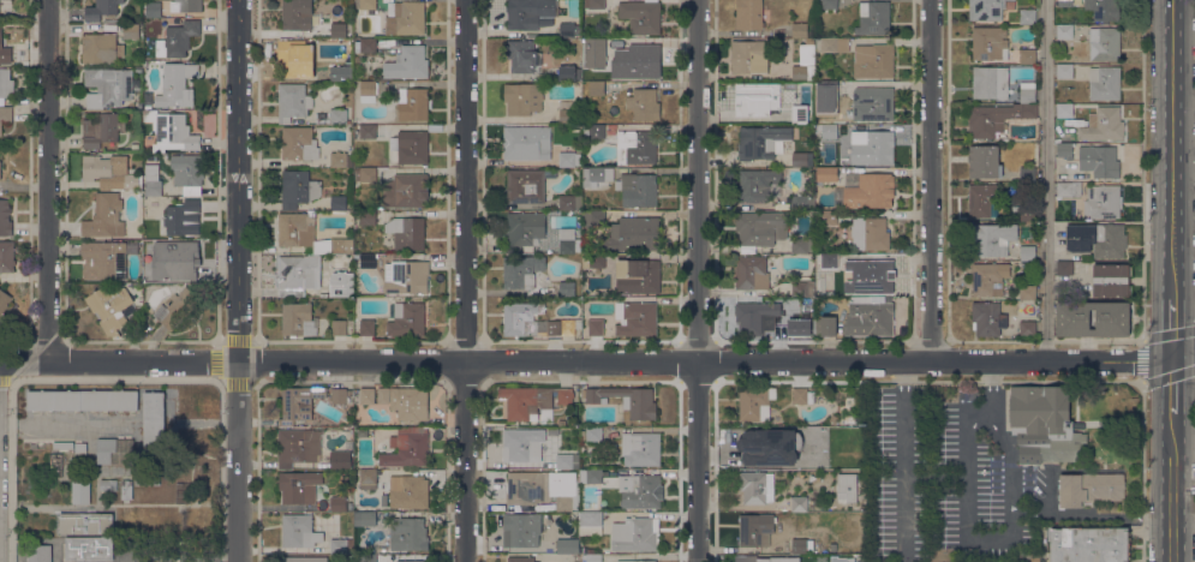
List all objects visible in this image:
building: (1062, 2)
building: (365, 4)
building: (593, 4)
building: (827, 4)
building: (189, 6)
building: (988, 8)
building: (1104, 8)
building: (102, 10)
building: (153, 10)
building: (528, 13)
building: (751, 14)
building: (298, 16)
building: (641, 16)
building: (1027, 17)
building: (405, 18)
building: (873, 18)
building: (110, 20)
building: (337, 30)
building: (569, 30)
building: (799, 30)
building: (1064, 31)
building: (130, 32)
building: (180, 37)
building: (809, 41)
building: (990, 43)
building: (1104, 43)
building: (368, 44)
building: (596, 44)
building: (833, 44)
building: (357, 46)
building: (101, 48)
building: (160, 48)
building: (4, 52)
building: (1027, 55)
building: (522, 56)
building: (751, 58)
building: (293, 59)
building: (873, 61)
building: (635, 62)
building: (805, 64)
building: (407, 65)
building: (1064, 71)
building: (339, 72)
building: (569, 72)
building: (359, 74)
building: (6, 83)
building: (990, 83)
building: (1104, 83)
building: (809, 84)
building: (108, 85)
building: (177, 85)
building: (832, 86)
building: (596, 88)
building: (368, 91)
building: (1027, 91)
building: (522, 98)
building: (757, 98)
building: (291, 102)
building: (644, 103)
building: (873, 103)
building: (414, 104)
building: (1064, 110)
building: (567, 112)
building: (826, 112)
building: (5, 114)
building: (799, 115)
building: (337, 116)
building: (996, 118)
building: (1103, 125)
building: (101, 130)
building: (174, 131)
building: (374, 131)
building: (593, 131)
building: (829, 131)
building: (516, 140)
building: (761, 142)
building: (299, 144)
building: (639, 145)
building: (135, 147)
building: (412, 147)
building: (876, 148)
road: (1175, 148)
building: (1064, 150)
building: (568, 156)
building: (336, 159)
building: (799, 160)
building: (1099, 161)
building: (984, 162)
building: (95, 167)
building: (0, 169)
building: (187, 173)
building: (368, 173)
building: (826, 174)
building: (1027, 174)
building: (597, 175)
building: (1075, 177)
road: (48, 180)
building: (131, 180)
road: (928, 180)
road: (1045, 180)
building: (153, 184)
building: (757, 185)
building: (526, 186)
building: (298, 189)
building: (1069, 189)
building: (637, 190)
building: (406, 191)
building: (871, 191)
building: (981, 199)
building: (1103, 201)
building: (569, 202)
building: (802, 202)
building: (337, 203)
building: (1027, 213)
building: (104, 216)
building: (180, 216)
building: (368, 217)
building: (829, 217)
building: (5, 219)
building: (592, 219)
building: (297, 228)
building: (760, 228)
building: (524, 231)
building: (840, 231)
building: (407, 232)
building: (870, 233)
building: (634, 234)
building: (996, 239)
building: (1095, 239)
building: (568, 240)
building: (341, 245)
building: (801, 245)
building: (1027, 252)
building: (6, 257)
building: (106, 258)
building: (366, 259)
building: (175, 261)
building: (594, 261)
building: (833, 261)
building: (1064, 268)
building: (524, 271)
building: (298, 273)
building: (751, 273)
building: (406, 276)
building: (639, 276)
building: (873, 277)
building: (988, 279)
road: (237, 280)
building: (1111, 280)
road: (465, 281)
road: (691, 281)
building: (341, 283)
building: (567, 288)
building: (801, 288)
building: (1027, 292)
building: (4, 300)
building: (110, 307)
building: (175, 309)
building: (406, 318)
building: (521, 318)
building: (635, 318)
building: (755, 318)
building: (867, 318)
building: (987, 318)
building: (298, 319)
building: (1112, 322)
building: (366, 325)
building: (562, 327)
building: (596, 327)
building: (800, 327)
building: (825, 327)
building: (339, 328)
building: (1027, 328)
road: (1173, 329)
building: (137, 330)
building: (609, 331)
road: (598, 361)
road: (1173, 385)
building: (340, 395)
building: (368, 395)
building: (802, 395)
building: (82, 400)
building: (626, 400)
building: (410, 402)
building: (534, 402)
building: (755, 402)
building: (298, 403)
building: (1039, 408)
building: (153, 418)
building: (833, 418)
building: (849, 419)
building: (562, 423)
road: (62, 424)
building: (593, 434)
building: (755, 442)
building: (522, 444)
building: (1033, 444)
building: (62, 446)
building: (298, 447)
building: (80, 448)
building: (407, 448)
building: (640, 448)
building: (1071, 448)
building: (115, 450)
building: (1028, 459)
building: (340, 460)
building: (563, 461)
building: (799, 461)
road: (1173, 464)
building: (55, 465)
building: (151, 476)
building: (593, 476)
parking lot: (946, 478)
road: (946, 478)
building: (366, 479)
building: (108, 484)
building: (299, 486)
building: (753, 488)
building: (1089, 488)
building: (126, 489)
building: (407, 491)
building: (537, 491)
building: (80, 492)
building: (641, 492)
building: (799, 503)
building: (337, 504)
road: (1045, 512)
building: (364, 519)
building: (591, 521)
building: (85, 522)
building: (755, 528)
building: (521, 530)
building: (299, 531)
building: (407, 533)
building: (634, 534)
road: (1175, 539)
road: (973, 543)
building: (1089, 544)
building: (560, 545)
building: (801, 545)
building: (341, 546)
building: (832, 546)
building: (89, 548)
building: (40, 552)
building: (1034, 552)
building: (591, 556)
building: (303, 558)
building: (368, 558)
building: (520, 558)
building: (749, 558)
building: (841, 558)
building: (1034, 560)
building: (413, 561)
building: (640, 561)

